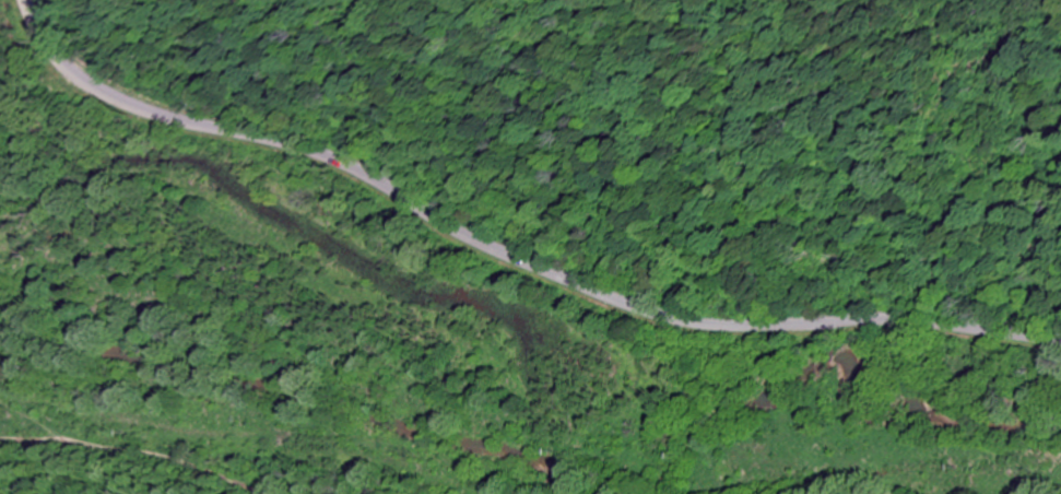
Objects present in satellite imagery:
road: (504, 255)

